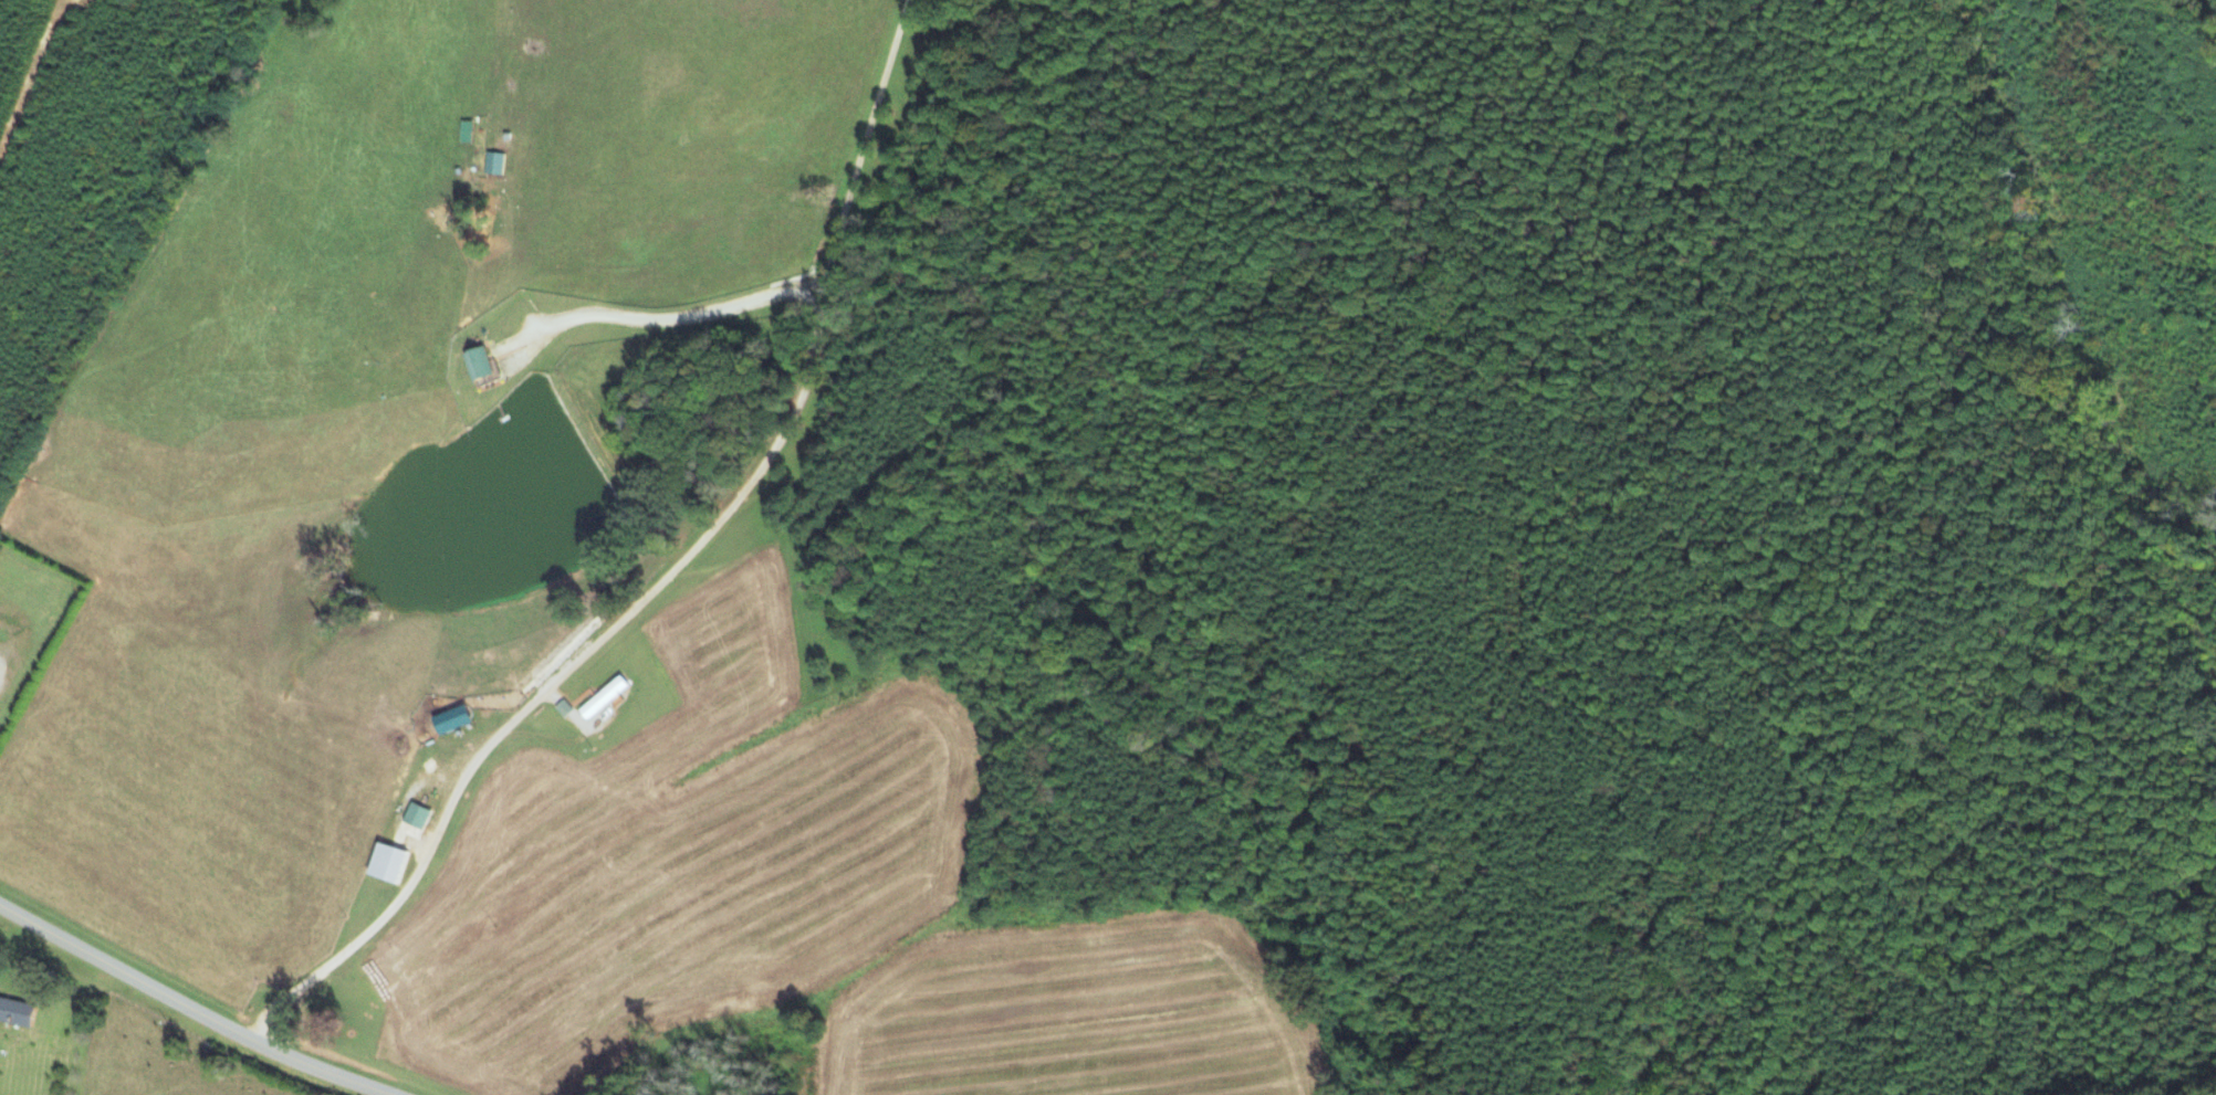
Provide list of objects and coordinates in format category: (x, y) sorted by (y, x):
building: (493, 162)
road: (669, 318)
building: (479, 364)
road: (665, 575)
road: (7, 665)
building: (603, 698)
building: (416, 815)
building: (387, 863)
road: (180, 1005)
building: (15, 1011)

